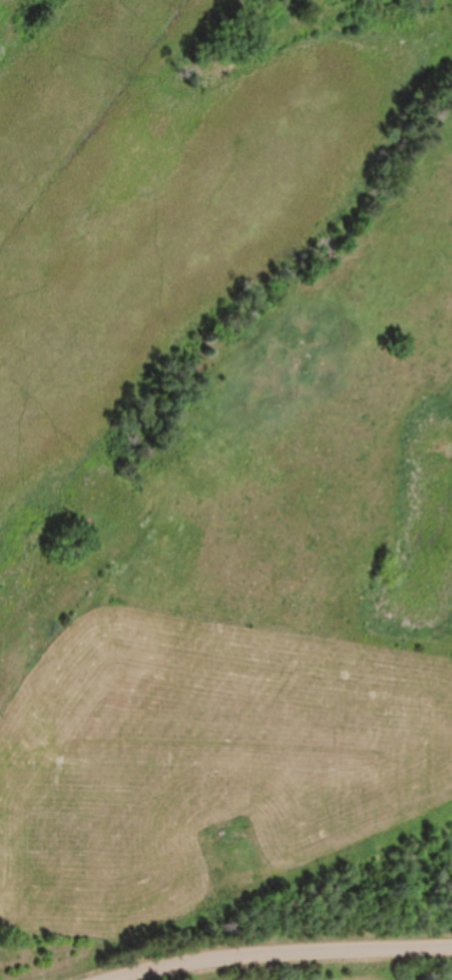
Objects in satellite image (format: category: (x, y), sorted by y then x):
road: (17, 924)
road: (286, 955)

